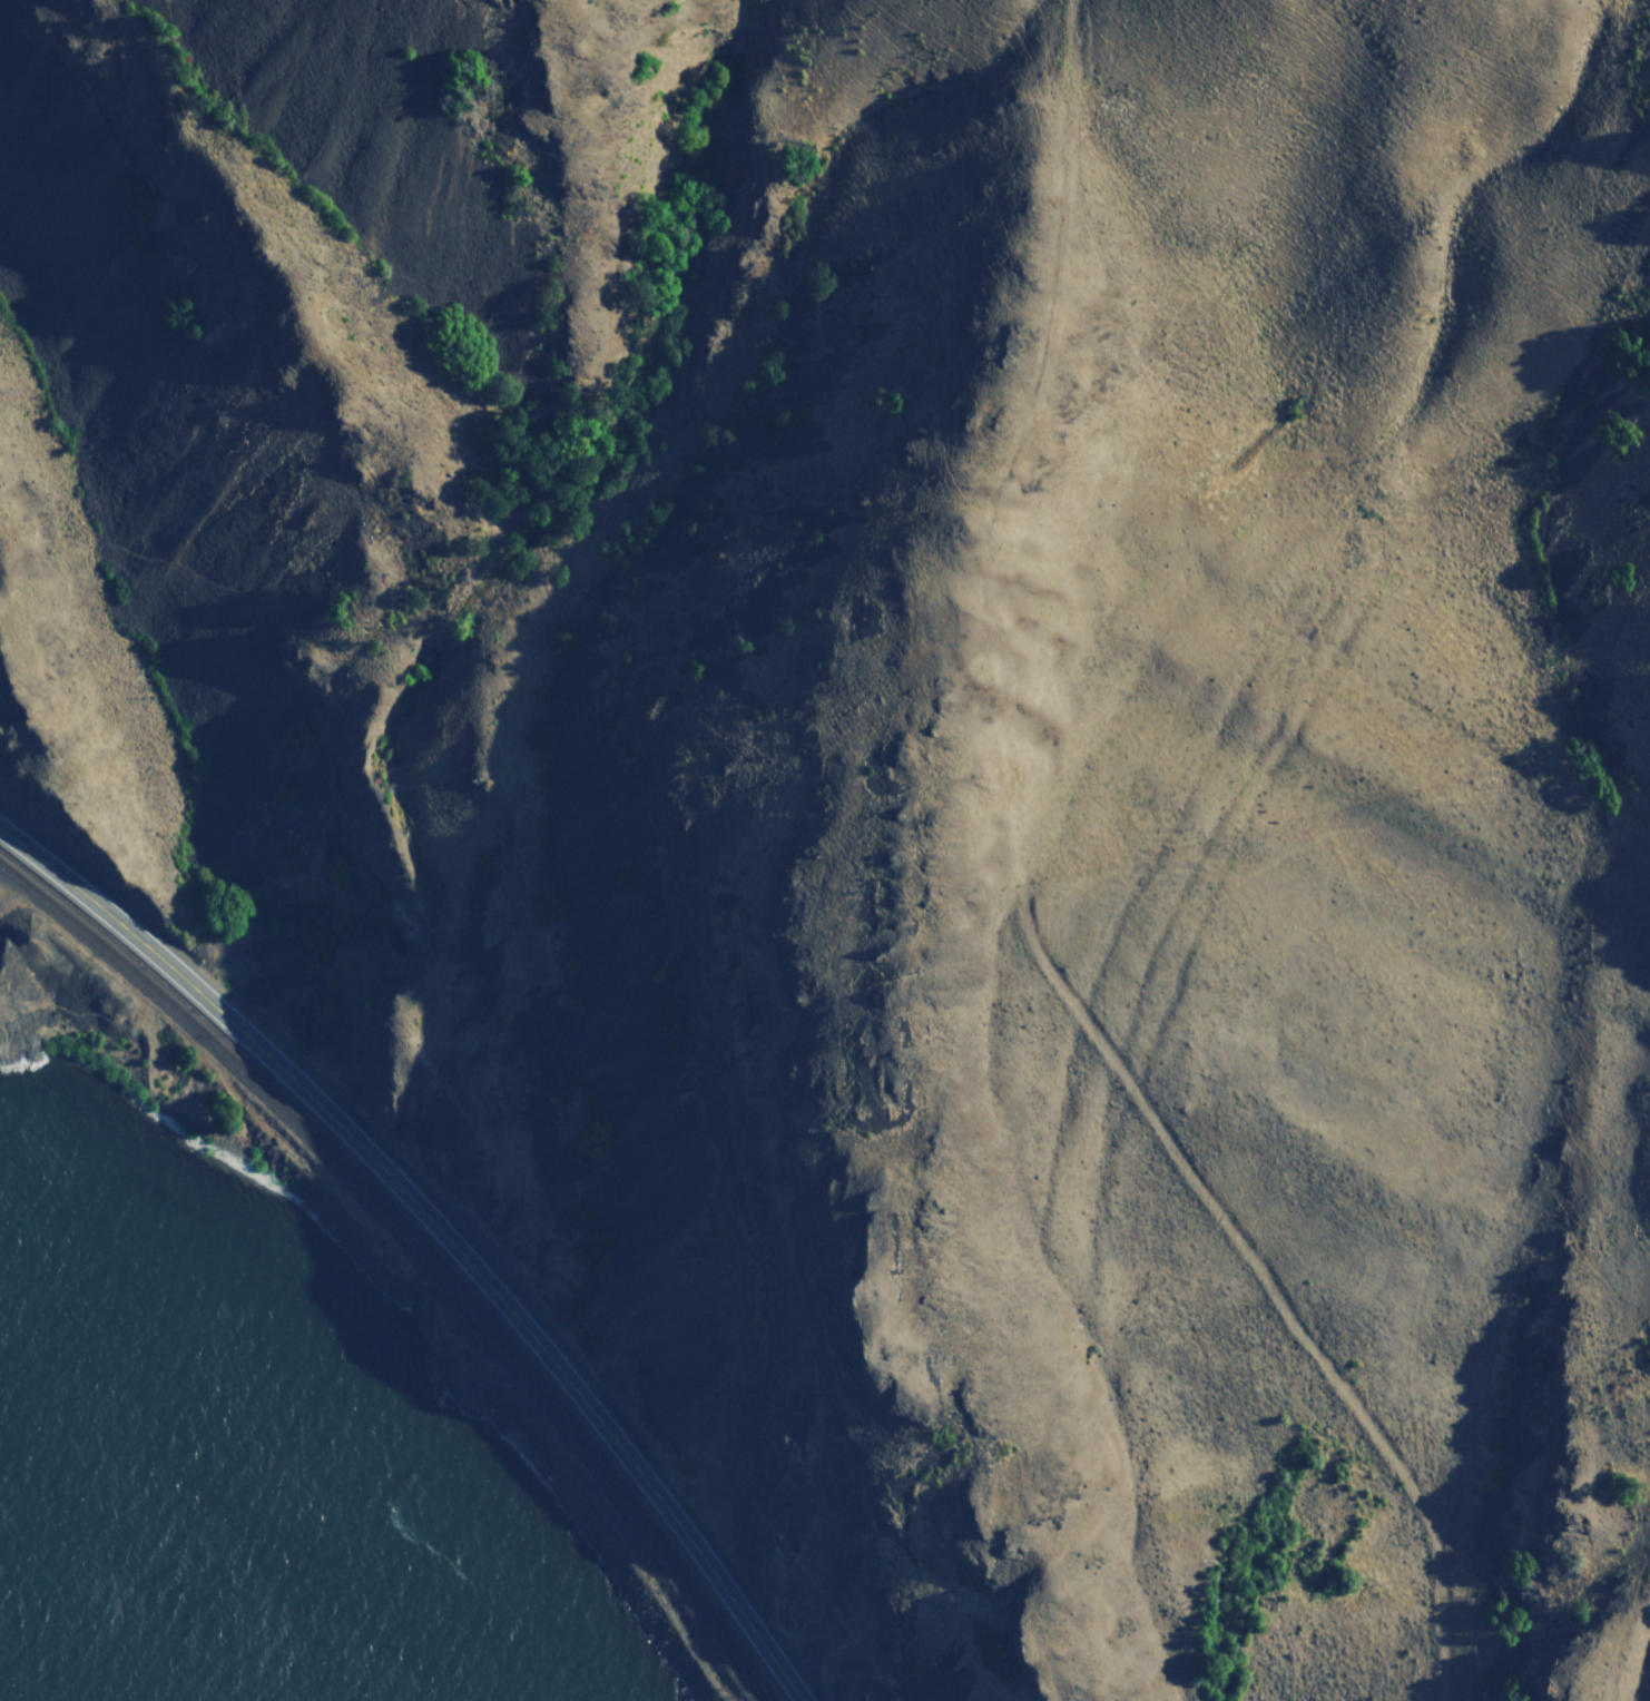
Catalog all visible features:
road: (441, 1230)
railway: (412, 1251)

